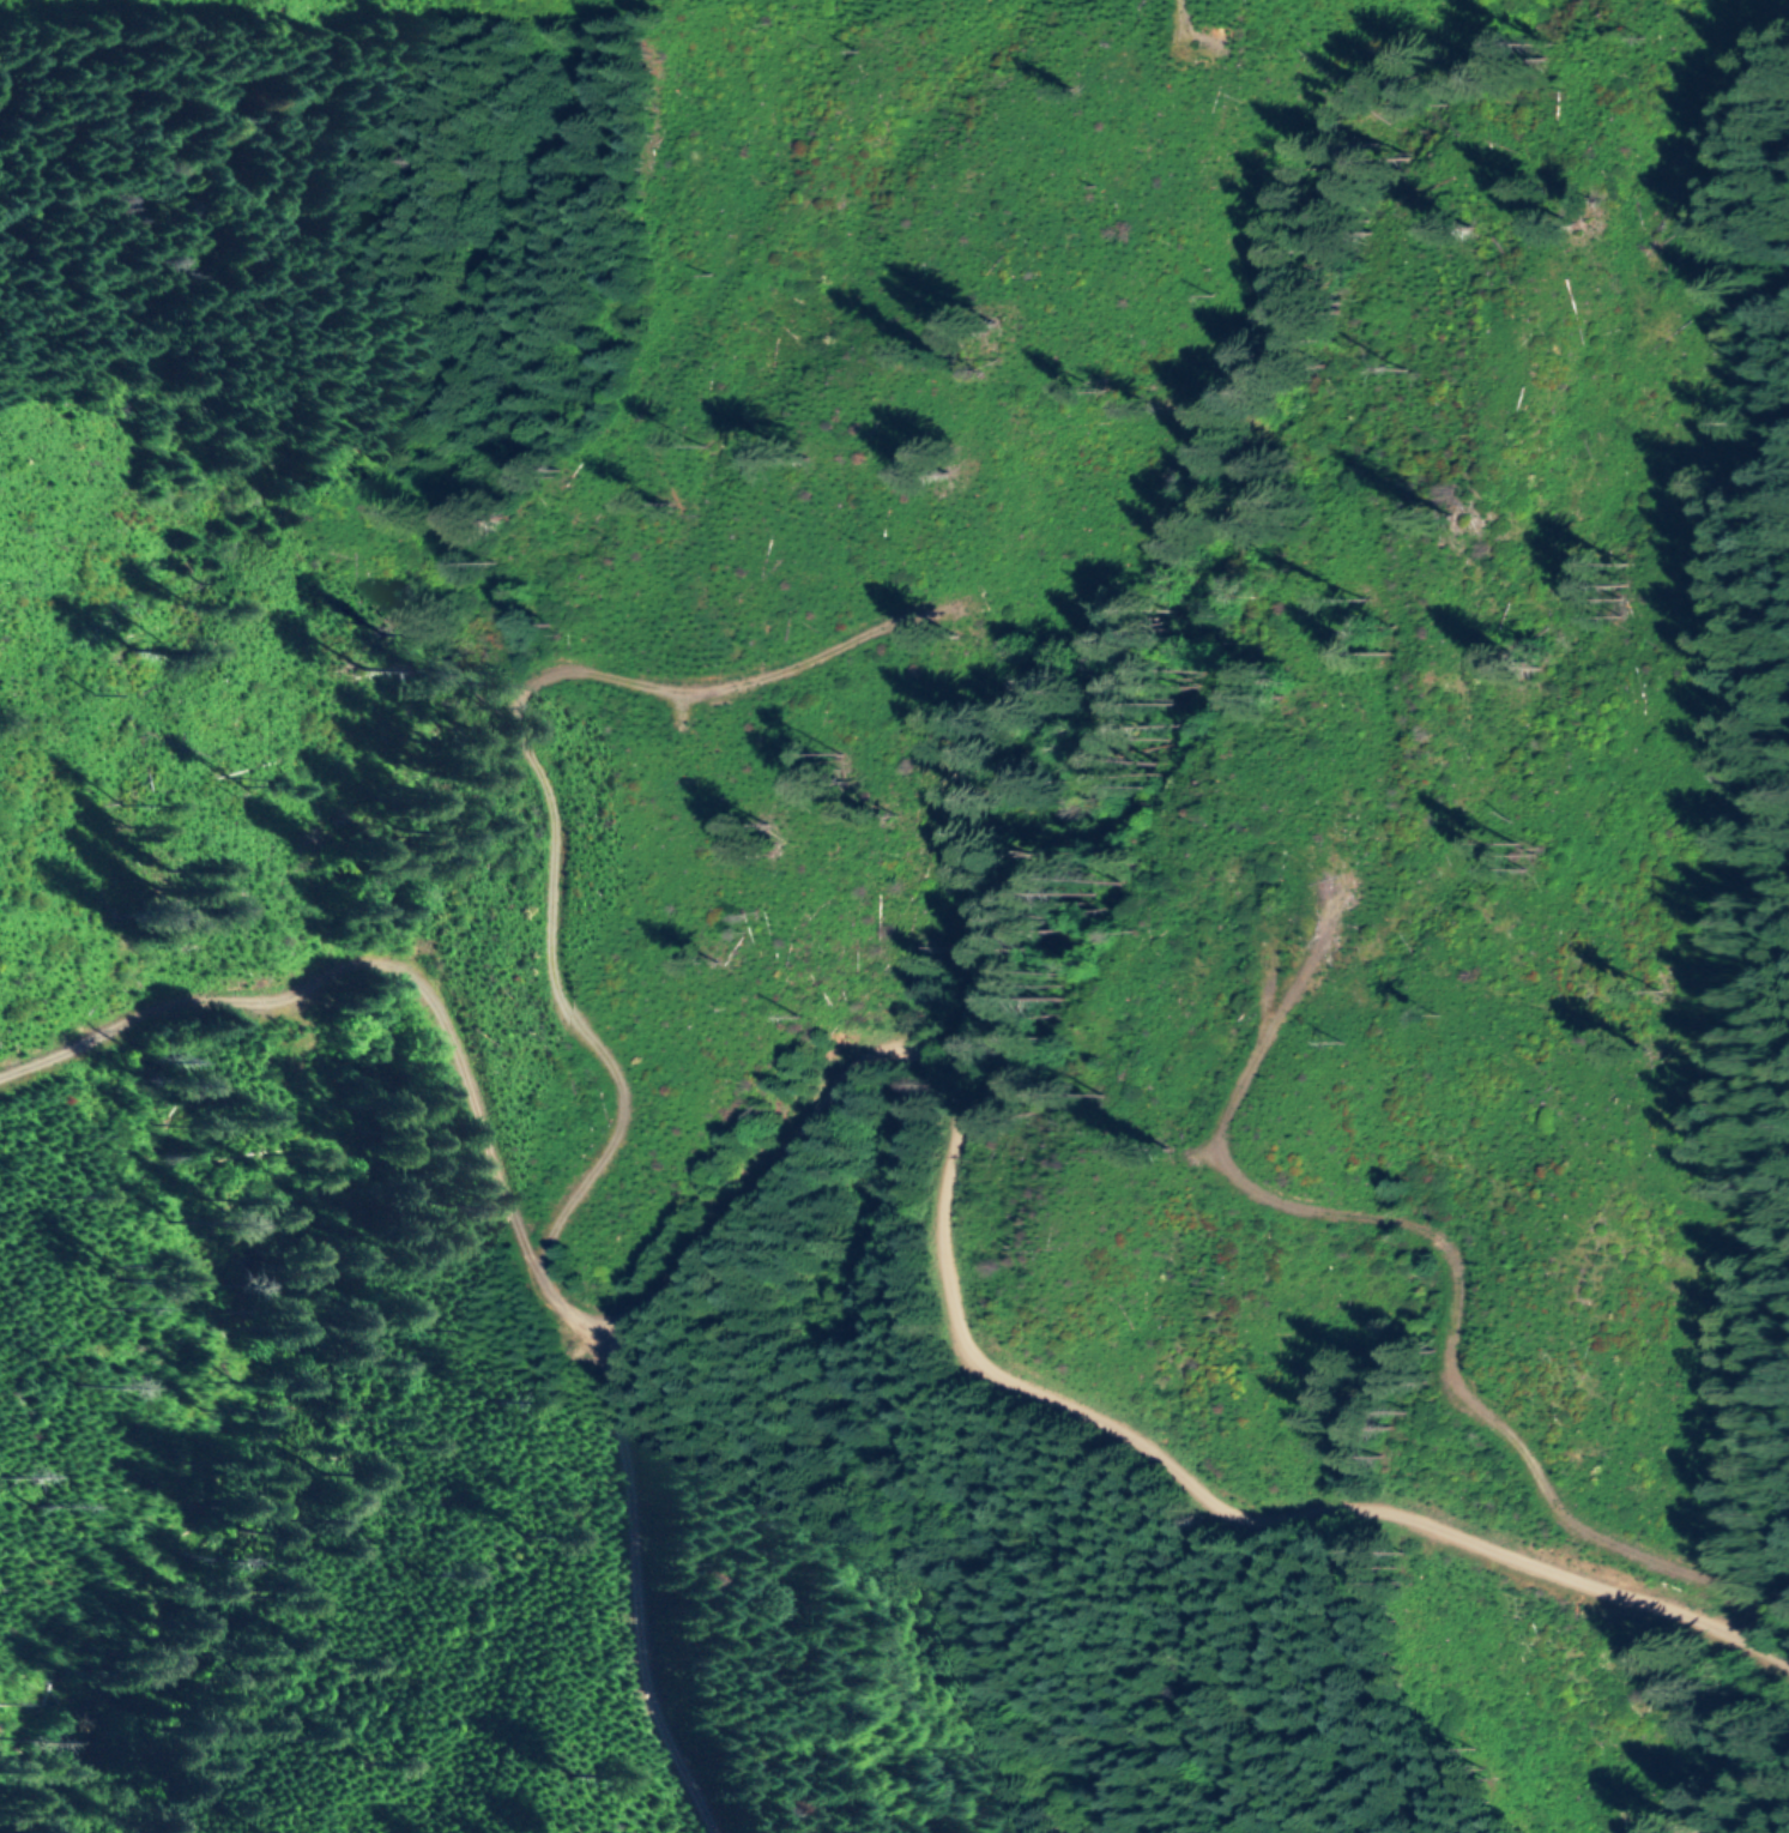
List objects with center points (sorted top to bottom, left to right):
crop: (1567, 137)
road: (539, 762)
road: (398, 971)
road: (1479, 1247)
road: (1029, 1391)
road: (629, 1584)

